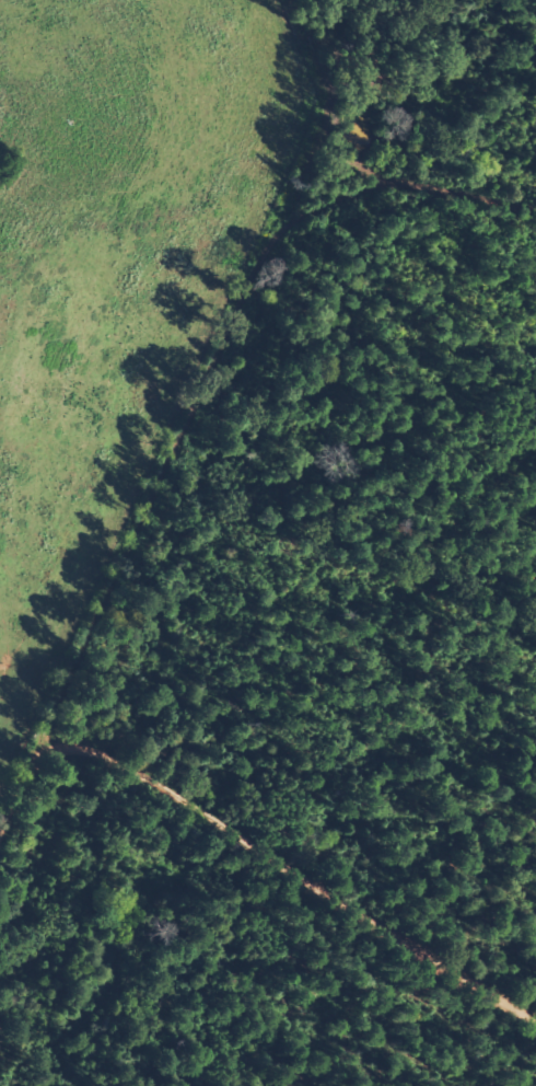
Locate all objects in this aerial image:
road: (249, 893)

